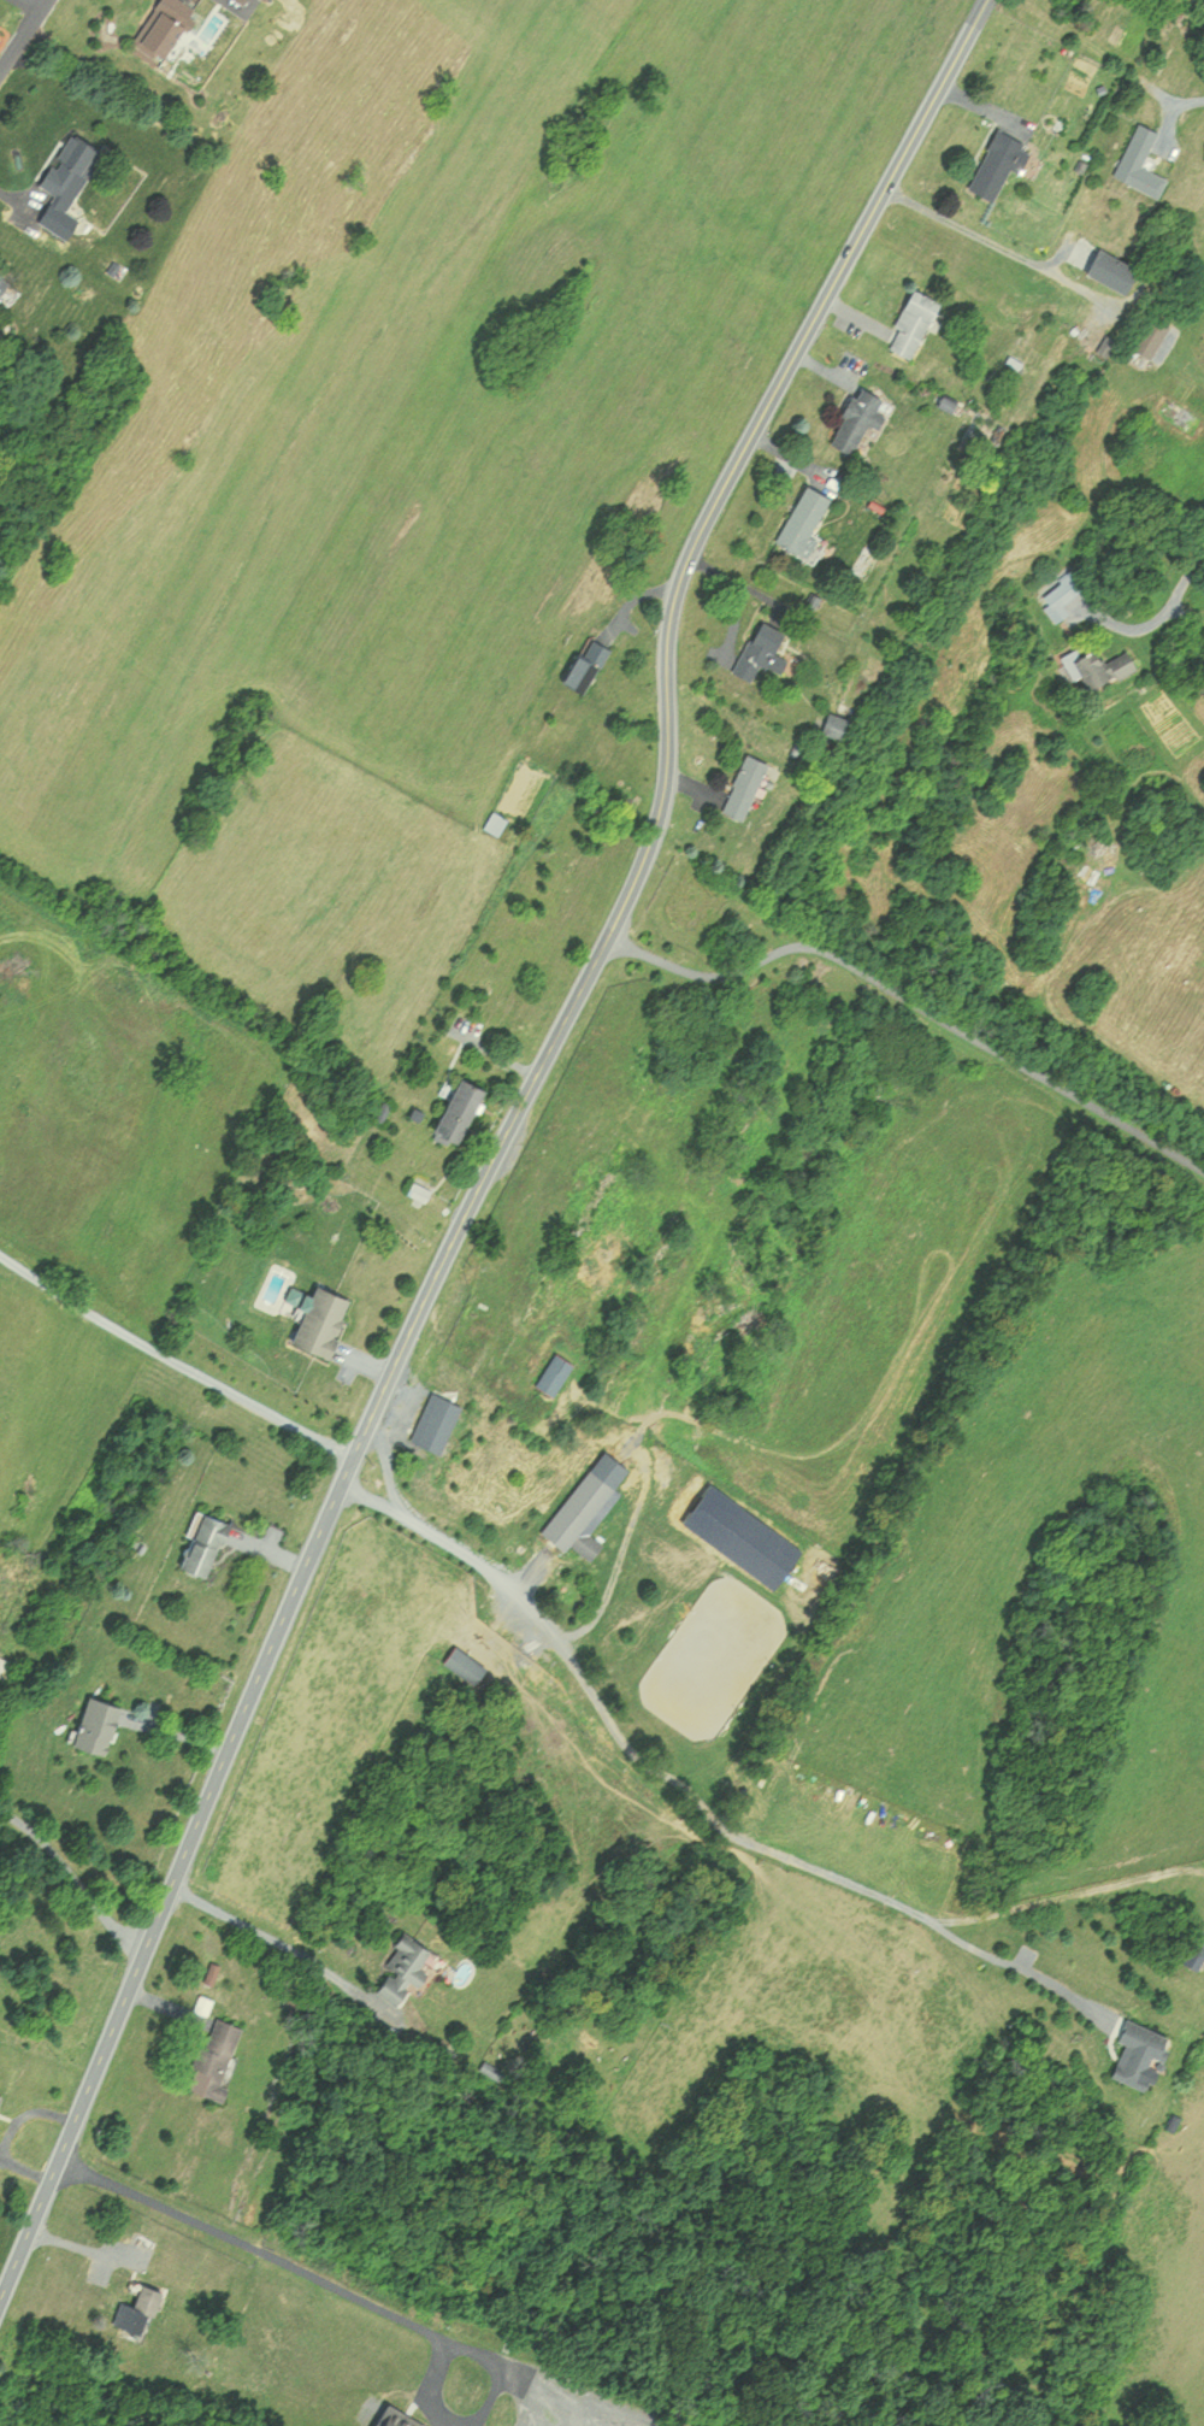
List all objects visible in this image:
road: (28, 6)
building: (164, 27)
road: (23, 34)
road: (1182, 99)
building: (1138, 161)
building: (996, 163)
building: (67, 165)
road: (22, 207)
road: (1003, 249)
building: (1100, 265)
building: (2, 281)
building: (911, 322)
building: (856, 417)
building: (802, 519)
building: (1061, 594)
road: (1158, 608)
building: (763, 646)
building: (583, 663)
building: (1097, 664)
building: (832, 724)
building: (742, 785)
building: (496, 822)
road: (913, 1001)
building: (451, 1108)
road: (500, 1146)
building: (320, 1323)
road: (173, 1358)
building: (550, 1372)
building: (430, 1420)
road: (390, 1495)
building: (582, 1506)
building: (200, 1542)
building: (462, 1662)
building: (95, 1725)
road: (704, 1810)
road: (75, 1880)
road: (276, 1945)
building: (400, 1968)
building: (1133, 2048)
building: (211, 2054)
building: (0, 2092)
road: (85, 2251)
road: (365, 2296)
building: (136, 2308)
road: (577, 2396)
road: (538, 2406)
building: (394, 2416)
road: (450, 2425)

